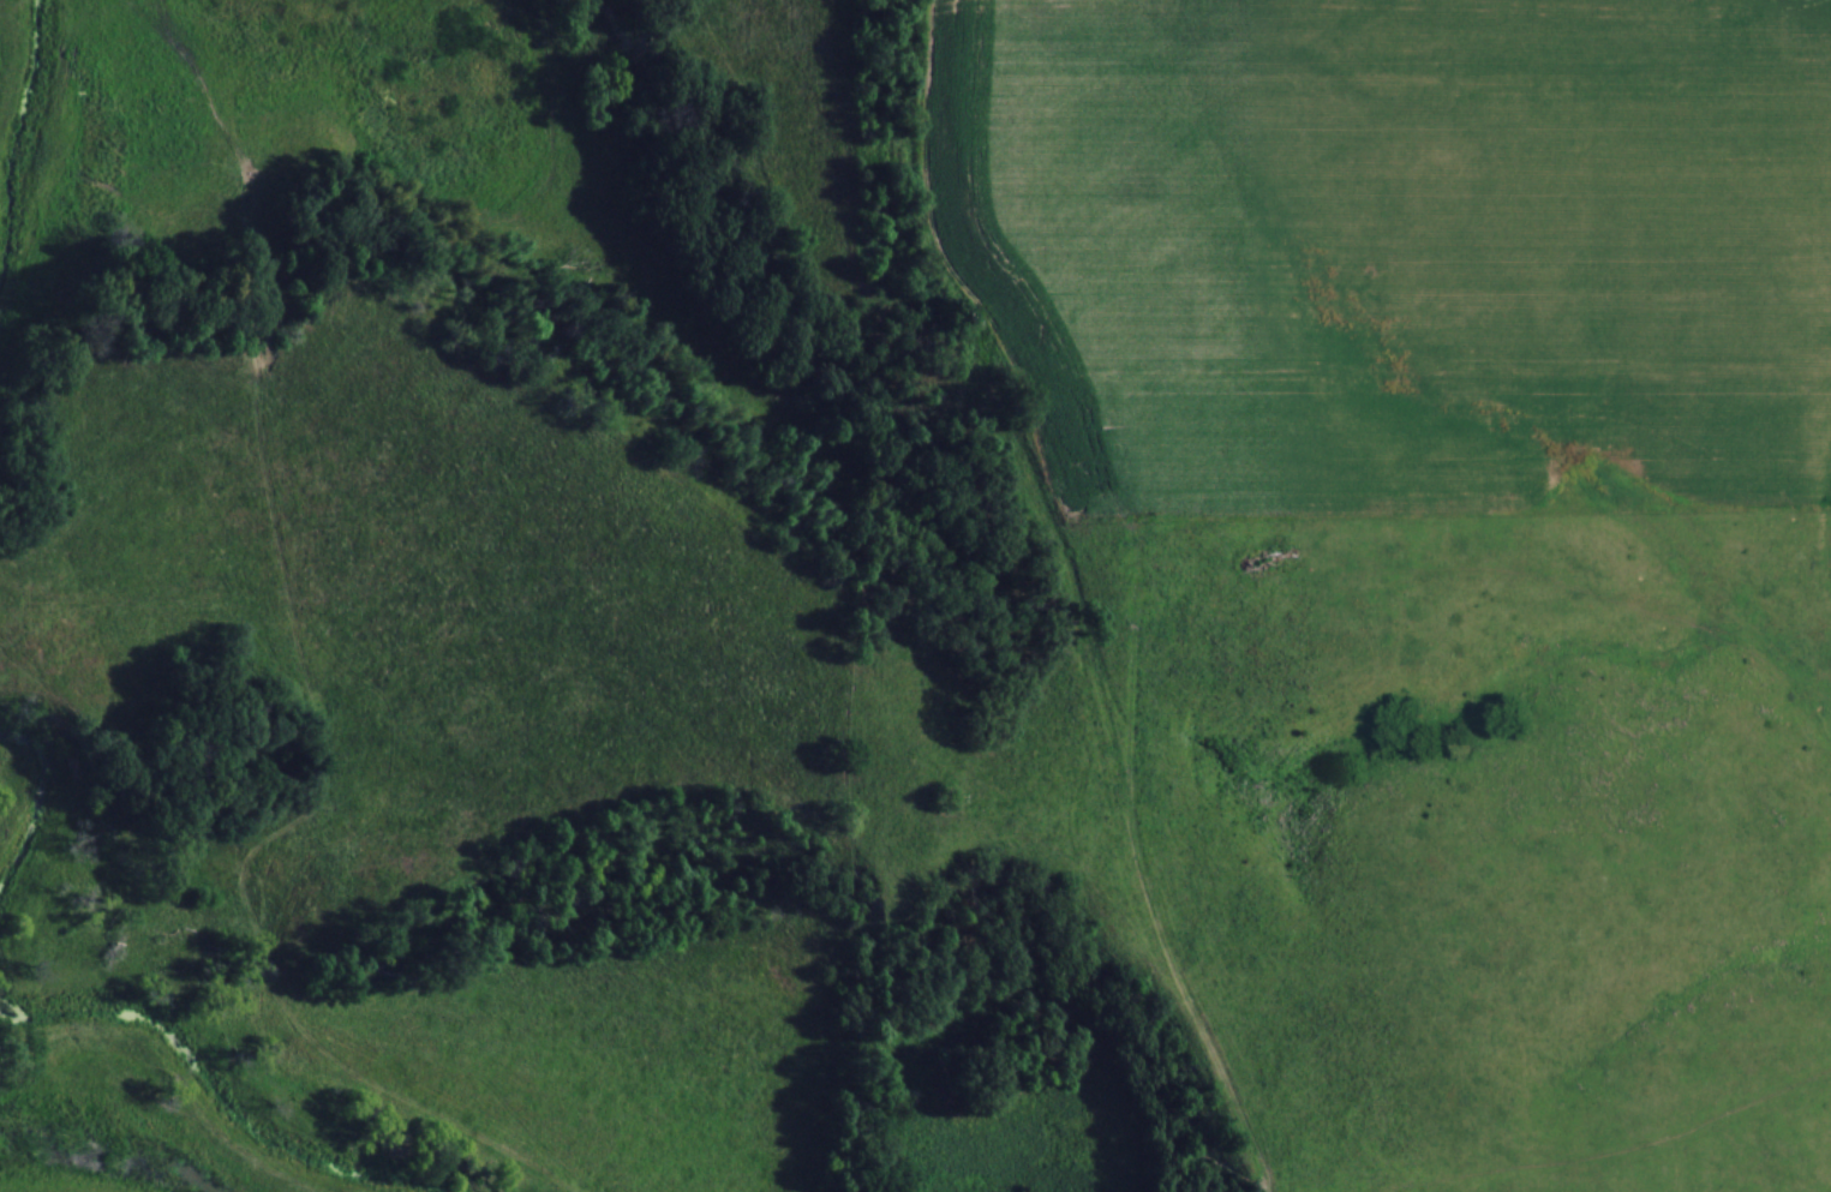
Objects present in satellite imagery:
river: (16, 133)
river: (37, 795)
river: (210, 1091)

